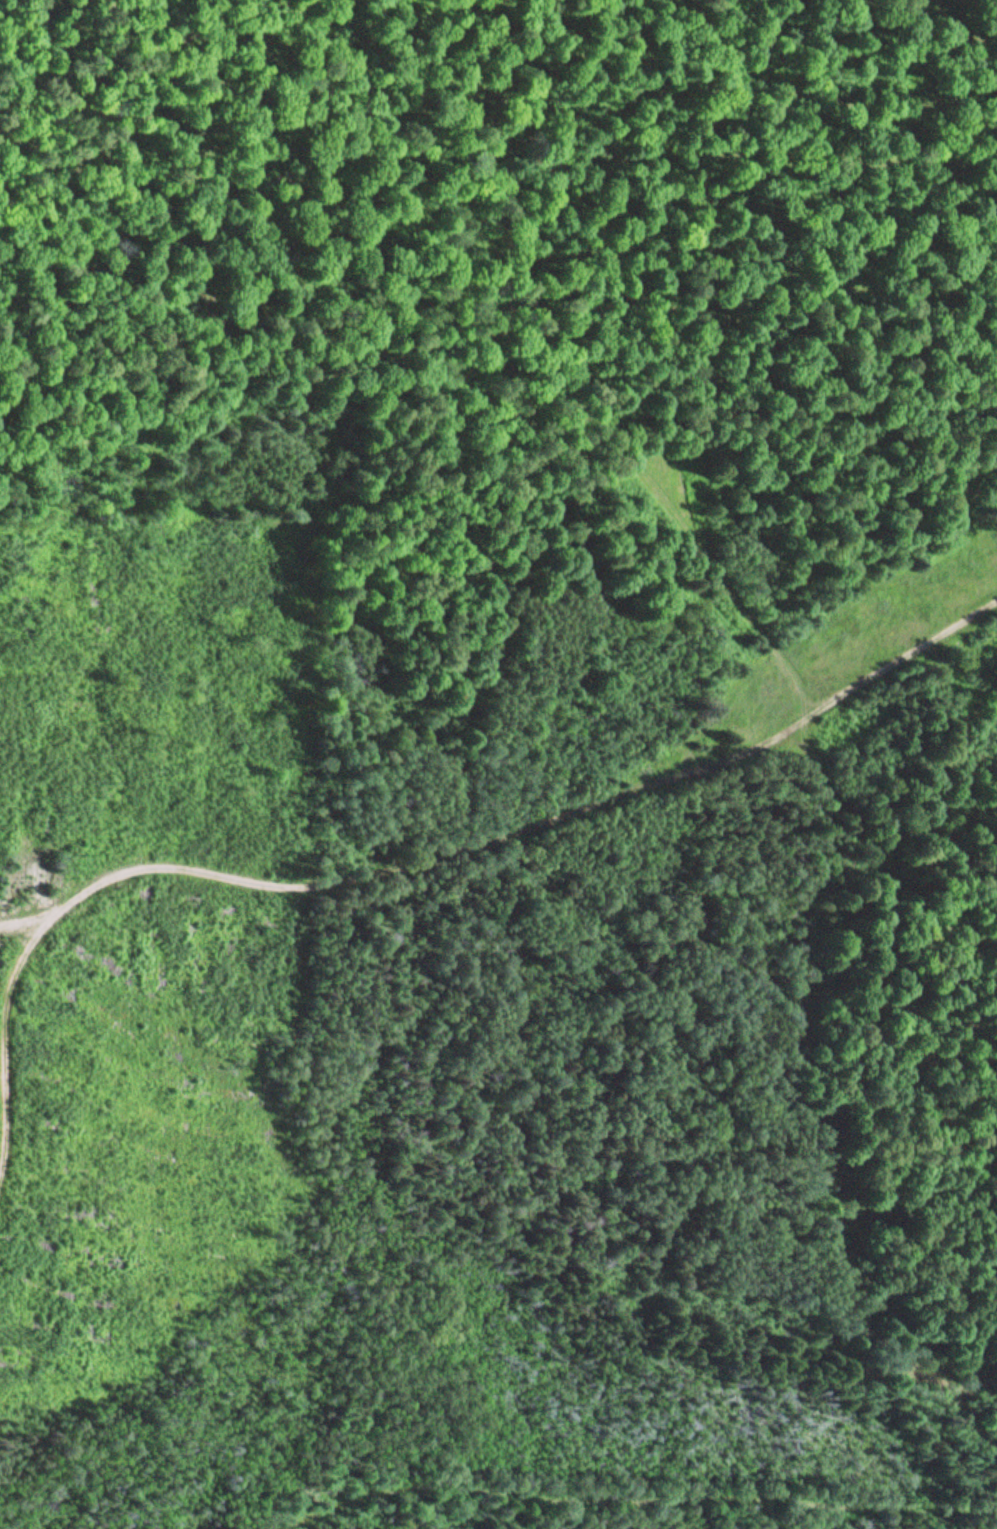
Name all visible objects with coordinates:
road: (513, 815)

